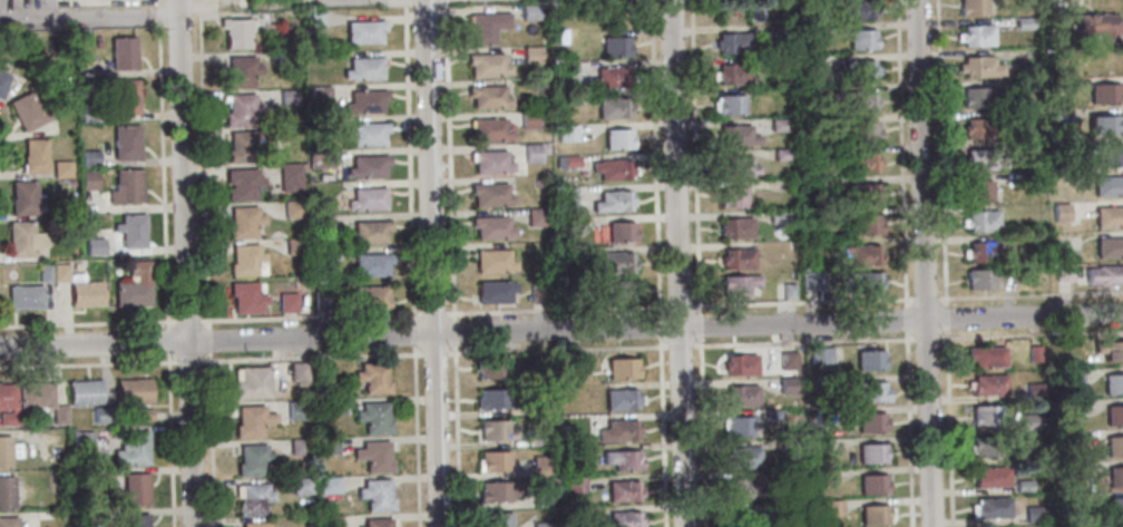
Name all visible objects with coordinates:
building: (1058, 2)
building: (970, 8)
road: (157, 10)
building: (851, 10)
building: (529, 12)
road: (89, 16)
building: (313, 18)
building: (1023, 22)
building: (1094, 26)
building: (485, 27)
building: (809, 30)
building: (362, 31)
building: (779, 32)
building: (235, 33)
building: (975, 35)
building: (860, 38)
building: (731, 43)
building: (282, 45)
building: (614, 46)
building: (121, 53)
building: (530, 56)
building: (775, 62)
building: (810, 62)
building: (487, 66)
building: (978, 67)
building: (362, 69)
building: (858, 69)
building: (567, 71)
building: (240, 72)
building: (732, 74)
building: (606, 79)
building: (2, 81)
building: (1056, 84)
building: (1025, 85)
building: (1104, 94)
building: (319, 95)
building: (124, 97)
building: (287, 97)
building: (488, 97)
building: (976, 97)
building: (865, 100)
building: (364, 101)
building: (615, 106)
building: (726, 106)
building: (240, 110)
building: (28, 111)
building: (88, 114)
building: (1059, 114)
building: (528, 119)
building: (811, 121)
building: (779, 125)
building: (1103, 125)
building: (978, 127)
building: (488, 130)
building: (859, 131)
building: (568, 134)
building: (365, 135)
building: (736, 136)
building: (618, 138)
road: (1, 143)
building: (125, 143)
building: (245, 145)
building: (530, 153)
road: (900, 153)
road: (940, 153)
building: (781, 154)
building: (811, 155)
building: (1107, 155)
building: (33, 156)
road: (693, 157)
building: (88, 158)
building: (320, 159)
building: (982, 159)
road: (408, 160)
building: (569, 160)
building: (489, 162)
building: (860, 163)
road: (203, 164)
building: (367, 166)
building: (736, 167)
building: (614, 168)
building: (61, 169)
road: (163, 175)
building: (1070, 175)
building: (290, 176)
building: (88, 179)
building: (1027, 179)
building: (244, 184)
building: (127, 186)
building: (1107, 186)
building: (976, 191)
building: (861, 193)
building: (489, 195)
building: (22, 197)
building: (731, 197)
building: (368, 198)
building: (568, 198)
building: (615, 201)
building: (293, 207)
building: (1059, 212)
building: (778, 216)
building: (1107, 216)
building: (536, 217)
building: (244, 221)
building: (980, 221)
building: (322, 223)
building: (866, 224)
building: (735, 227)
building: (490, 228)
building: (131, 230)
building: (623, 231)
building: (369, 232)
building: (25, 238)
building: (294, 245)
building: (95, 246)
building: (1109, 248)
building: (982, 252)
building: (328, 254)
building: (861, 255)
building: (247, 260)
building: (736, 260)
building: (494, 261)
building: (618, 262)
road: (185, 263)
road: (431, 263)
road: (677, 263)
road: (922, 263)
building: (372, 264)
building: (60, 272)
building: (1062, 272)
building: (45, 273)
building: (1104, 276)
building: (982, 279)
building: (811, 281)
building: (859, 282)
building: (134, 285)
building: (738, 285)
building: (627, 286)
building: (495, 291)
building: (788, 291)
building: (538, 293)
building: (87, 294)
road: (1028, 294)
building: (370, 295)
building: (26, 296)
building: (246, 296)
building: (322, 299)
road: (924, 299)
road: (801, 301)
building: (289, 302)
road: (684, 305)
road: (427, 313)
road: (310, 316)
road: (944, 318)
road: (905, 319)
road: (188, 320)
road: (88, 323)
road: (699, 326)
road: (561, 331)
road: (660, 333)
road: (413, 334)
road: (1031, 335)
road: (926, 339)
road: (209, 340)
road: (169, 341)
road: (455, 341)
road: (802, 342)
road: (680, 347)
road: (621, 348)
building: (1110, 351)
road: (469, 352)
road: (433, 353)
building: (1033, 354)
building: (821, 355)
building: (986, 355)
road: (312, 358)
road: (191, 360)
building: (788, 360)
building: (870, 361)
road: (89, 363)
building: (742, 364)
building: (491, 368)
building: (573, 368)
building: (622, 368)
building: (297, 371)
building: (373, 377)
building: (1073, 378)
building: (252, 383)
building: (1113, 383)
building: (822, 384)
building: (988, 384)
building: (788, 386)
building: (134, 390)
building: (86, 392)
building: (872, 392)
building: (37, 393)
building: (9, 396)
building: (742, 396)
building: (492, 399)
building: (621, 399)
building: (334, 406)
building: (538, 409)
building: (296, 410)
building: (1071, 410)
building: (61, 413)
building: (144, 413)
building: (105, 414)
building: (772, 414)
building: (823, 416)
building: (985, 416)
building: (1114, 416)
building: (374, 417)
building: (10, 418)
building: (252, 420)
building: (871, 422)
building: (1029, 422)
building: (739, 427)
road: (948, 428)
road: (908, 429)
building: (496, 430)
building: (563, 430)
building: (619, 430)
road: (663, 432)
road: (702, 432)
road: (416, 436)
road: (456, 437)
road: (172, 439)
road: (213, 439)
building: (1074, 439)
building: (81, 441)
building: (534, 441)
building: (826, 445)
building: (328, 446)
building: (789, 446)
building: (299, 447)
building: (985, 447)
building: (1114, 447)
building: (133, 448)
building: (6, 450)
building: (872, 455)
building: (374, 456)
building: (1024, 456)
building: (743, 458)
building: (253, 459)
building: (623, 459)
building: (495, 461)
building: (540, 466)
building: (1070, 474)
building: (791, 476)
building: (992, 476)
building: (827, 477)
building: (1115, 477)
building: (875, 484)
building: (329, 485)
building: (301, 486)
building: (575, 486)
building: (1023, 486)
building: (136, 488)
building: (745, 488)
building: (499, 490)
building: (624, 490)
building: (7, 492)
building: (377, 495)
building: (540, 495)
building: (252, 498)
building: (990, 507)
building: (832, 508)
building: (1116, 508)
building: (60, 514)
building: (876, 515)
building: (1033, 515)
building: (744, 518)
building: (496, 519)
building: (621, 519)
building: (137, 520)
building: (9, 521)
building: (330, 521)
building: (378, 523)
building: (254, 524)
building: (541, 525)
building: (1085, 526)

